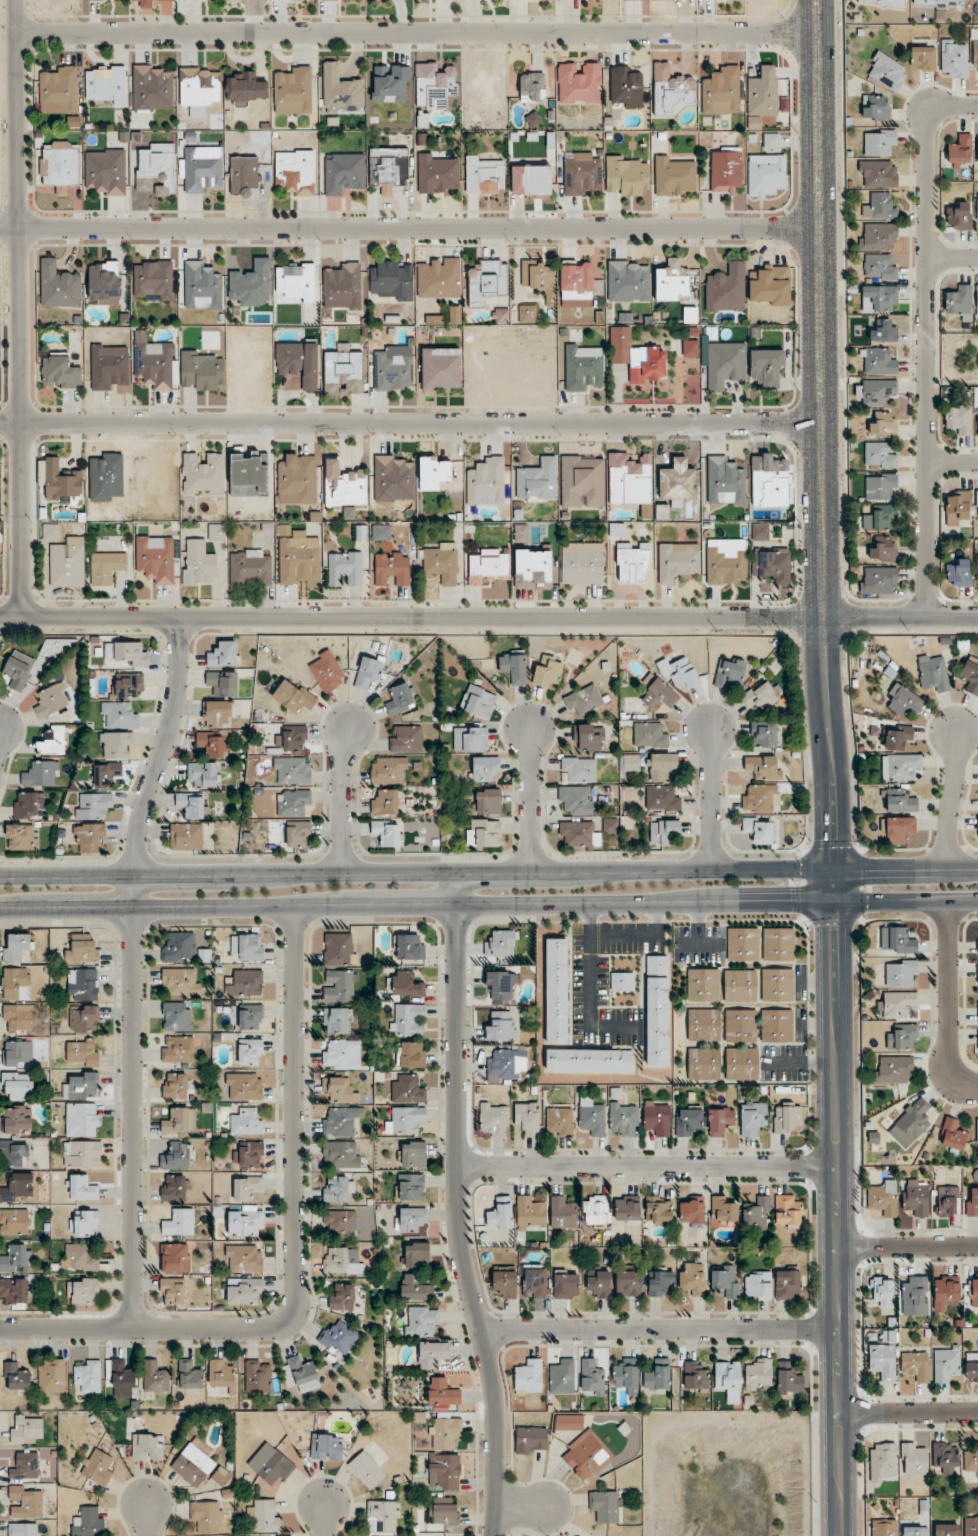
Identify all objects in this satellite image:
building: (105, 0)
building: (331, 0)
building: (633, 0)
building: (661, 0)
building: (884, 3)
building: (146, 4)
building: (939, 4)
road: (818, 16)
road: (416, 32)
building: (975, 53)
building: (922, 59)
building: (954, 59)
building: (886, 72)
building: (579, 83)
building: (105, 85)
building: (199, 86)
building: (532, 87)
building: (152, 88)
building: (246, 88)
building: (625, 88)
building: (340, 90)
building: (671, 90)
building: (59, 91)
building: (292, 91)
building: (721, 91)
building: (762, 91)
road: (951, 105)
building: (876, 108)
building: (771, 141)
building: (880, 142)
building: (977, 151)
building: (960, 152)
building: (60, 167)
building: (388, 169)
building: (725, 169)
building: (155, 170)
building: (201, 170)
building: (105, 171)
building: (295, 172)
building: (343, 172)
building: (437, 174)
building: (583, 174)
building: (877, 174)
building: (765, 175)
building: (485, 176)
building: (626, 176)
building: (674, 176)
building: (531, 180)
building: (880, 206)
building: (977, 207)
building: (959, 217)
road: (410, 228)
building: (878, 236)
road: (952, 257)
building: (880, 267)
building: (439, 277)
building: (392, 279)
building: (539, 279)
building: (153, 280)
building: (296, 281)
building: (628, 281)
building: (671, 281)
building: (487, 282)
building: (103, 283)
building: (576, 284)
building: (58, 285)
building: (770, 285)
building: (201, 286)
building: (342, 287)
building: (726, 288)
building: (879, 298)
building: (977, 299)
building: (960, 302)
road: (15, 308)
building: (527, 313)
building: (455, 315)
building: (500, 315)
building: (689, 315)
building: (885, 331)
building: (690, 348)
building: (637, 357)
road: (926, 360)
building: (878, 361)
building: (299, 362)
building: (154, 364)
building: (108, 365)
building: (725, 365)
building: (582, 366)
building: (767, 368)
building: (441, 369)
building: (200, 370)
building: (59, 371)
building: (343, 373)
building: (876, 391)
building: (958, 420)
road: (412, 422)
building: (884, 424)
road: (824, 451)
building: (879, 456)
road: (952, 463)
building: (435, 469)
building: (203, 473)
building: (393, 479)
building: (537, 479)
building: (629, 479)
building: (297, 480)
building: (63, 481)
building: (582, 481)
building: (677, 481)
building: (725, 482)
building: (486, 483)
building: (344, 485)
building: (880, 485)
building: (977, 501)
building: (957, 506)
building: (660, 514)
building: (881, 518)
building: (50, 532)
building: (216, 532)
building: (381, 532)
building: (759, 532)
building: (882, 549)
building: (155, 558)
building: (298, 558)
building: (441, 562)
building: (632, 562)
building: (677, 562)
building: (68, 563)
building: (197, 563)
building: (582, 563)
building: (726, 563)
building: (773, 564)
building: (488, 565)
building: (106, 568)
building: (392, 568)
building: (249, 569)
building: (345, 569)
building: (976, 570)
building: (958, 574)
building: (878, 580)
road: (412, 615)
road: (901, 616)
building: (58, 646)
building: (130, 654)
building: (224, 654)
building: (513, 667)
building: (327, 671)
building: (548, 671)
building: (729, 671)
building: (16, 672)
building: (679, 672)
building: (933, 672)
building: (367, 673)
building: (970, 677)
building: (223, 683)
building: (129, 685)
building: (761, 695)
building: (293, 696)
building: (659, 696)
building: (401, 699)
building: (583, 700)
building: (51, 701)
building: (478, 701)
building: (904, 701)
building: (216, 714)
building: (119, 715)
building: (650, 735)
building: (764, 735)
building: (589, 737)
building: (897, 737)
building: (294, 738)
building: (405, 739)
building: (474, 740)
building: (52, 741)
building: (212, 743)
building: (115, 745)
building: (630, 762)
building: (660, 766)
building: (764, 767)
building: (900, 767)
building: (484, 768)
building: (292, 770)
building: (389, 770)
building: (578, 770)
building: (41, 774)
building: (106, 774)
building: (202, 775)
building: (661, 798)
road: (528, 799)
building: (576, 799)
building: (761, 799)
road: (339, 800)
building: (487, 801)
road: (711, 801)
building: (899, 801)
road: (952, 801)
building: (292, 802)
building: (386, 803)
building: (28, 805)
building: (190, 805)
building: (92, 806)
building: (610, 825)
building: (758, 830)
building: (898, 830)
building: (663, 831)
building: (387, 833)
building: (483, 833)
building: (299, 834)
building: (579, 834)
building: (186, 836)
traffic signals: (835, 836)
building: (21, 837)
building: (88, 837)
traffic signals: (879, 870)
road: (906, 870)
road: (417, 872)
traffic signals: (786, 903)
road: (489, 905)
road: (697, 925)
road: (639, 936)
traffic signals: (835, 937)
building: (897, 941)
building: (501, 944)
building: (742, 944)
building: (778, 944)
building: (247, 946)
road: (699, 946)
building: (410, 947)
building: (16, 948)
building: (178, 948)
building: (81, 949)
building: (338, 949)
road: (131, 968)
building: (901, 973)
building: (180, 981)
building: (622, 981)
building: (14, 983)
building: (245, 983)
building: (82, 984)
road: (813, 984)
building: (406, 985)
building: (703, 985)
building: (777, 985)
building: (340, 986)
building: (501, 986)
building: (739, 986)
building: (556, 991)
road: (588, 993)
building: (897, 1005)
road: (949, 1005)
building: (657, 1010)
building: (176, 1016)
building: (250, 1016)
building: (18, 1018)
building: (83, 1018)
building: (408, 1020)
building: (336, 1021)
building: (704, 1025)
building: (502, 1026)
building: (740, 1026)
building: (776, 1026)
road: (814, 1026)
building: (903, 1038)
building: (177, 1050)
building: (82, 1052)
building: (250, 1052)
building: (18, 1053)
building: (341, 1054)
building: (411, 1054)
building: (589, 1060)
road: (797, 1063)
building: (703, 1064)
building: (741, 1064)
building: (506, 1065)
building: (892, 1069)
building: (18, 1085)
building: (81, 1086)
building: (174, 1086)
building: (243, 1086)
building: (406, 1089)
building: (339, 1090)
building: (591, 1117)
building: (657, 1117)
building: (786, 1117)
building: (527, 1118)
building: (752, 1118)
building: (17, 1119)
building: (81, 1119)
building: (623, 1119)
building: (405, 1120)
building: (494, 1120)
building: (179, 1121)
building: (340, 1121)
building: (688, 1121)
building: (719, 1121)
building: (914, 1121)
building: (247, 1122)
building: (559, 1122)
building: (977, 1130)
building: (952, 1135)
building: (82, 1154)
building: (248, 1154)
building: (341, 1154)
building: (412, 1154)
building: (176, 1156)
road: (647, 1167)
building: (410, 1186)
building: (246, 1187)
building: (17, 1188)
building: (82, 1188)
building: (173, 1188)
building: (337, 1189)
building: (915, 1197)
building: (884, 1198)
road: (837, 1202)
building: (946, 1202)
building: (971, 1202)
road: (459, 1206)
building: (627, 1208)
building: (658, 1209)
building: (595, 1210)
building: (692, 1210)
building: (723, 1211)
building: (788, 1211)
building: (530, 1213)
building: (562, 1213)
building: (500, 1214)
building: (757, 1214)
building: (410, 1220)
building: (13, 1222)
building: (340, 1222)
building: (179, 1223)
building: (245, 1223)
building: (85, 1224)
road: (908, 1246)
building: (416, 1255)
building: (78, 1257)
building: (175, 1257)
road: (293, 1257)
building: (15, 1259)
building: (243, 1259)
building: (343, 1261)
building: (692, 1279)
building: (725, 1280)
building: (505, 1281)
building: (660, 1282)
building: (534, 1283)
building: (628, 1283)
building: (566, 1284)
building: (598, 1284)
building: (787, 1284)
building: (757, 1285)
building: (415, 1288)
building: (15, 1291)
building: (84, 1291)
building: (172, 1291)
building: (244, 1291)
building: (974, 1291)
building: (946, 1293)
building: (883, 1294)
building: (914, 1296)
building: (342, 1297)
building: (421, 1322)
road: (660, 1329)
building: (339, 1338)
building: (432, 1355)
building: (883, 1362)
building: (946, 1362)
building: (916, 1366)
building: (971, 1372)
building: (303, 1374)
building: (189, 1375)
building: (221, 1375)
building: (626, 1375)
building: (657, 1375)
building: (759, 1375)
building: (14, 1376)
building: (88, 1376)
building: (258, 1376)
building: (561, 1376)
building: (695, 1376)
building: (727, 1376)
building: (123, 1377)
building: (155, 1377)
building: (528, 1377)
building: (51, 1378)
building: (592, 1378)
building: (789, 1379)
building: (443, 1392)
road: (909, 1411)
building: (568, 1422)
building: (26, 1429)
building: (444, 1433)
building: (531, 1440)
building: (147, 1447)
building: (326, 1447)
building: (585, 1455)
building: (945, 1458)
building: (914, 1459)
building: (883, 1462)
building: (971, 1462)
building: (193, 1465)
building: (25, 1466)
building: (97, 1468)
building: (274, 1468)
building: (366, 1470)
building: (444, 1472)
building: (221, 1476)
building: (25, 1502)
building: (604, 1506)
road: (520, 1508)
building: (443, 1512)
building: (265, 1515)
building: (207, 1516)
building: (383, 1517)
road: (146, 1519)
road: (325, 1519)
building: (88, 1523)
building: (971, 1524)
building: (884, 1528)
building: (22, 1529)
building: (946, 1530)
building: (914, 1531)

